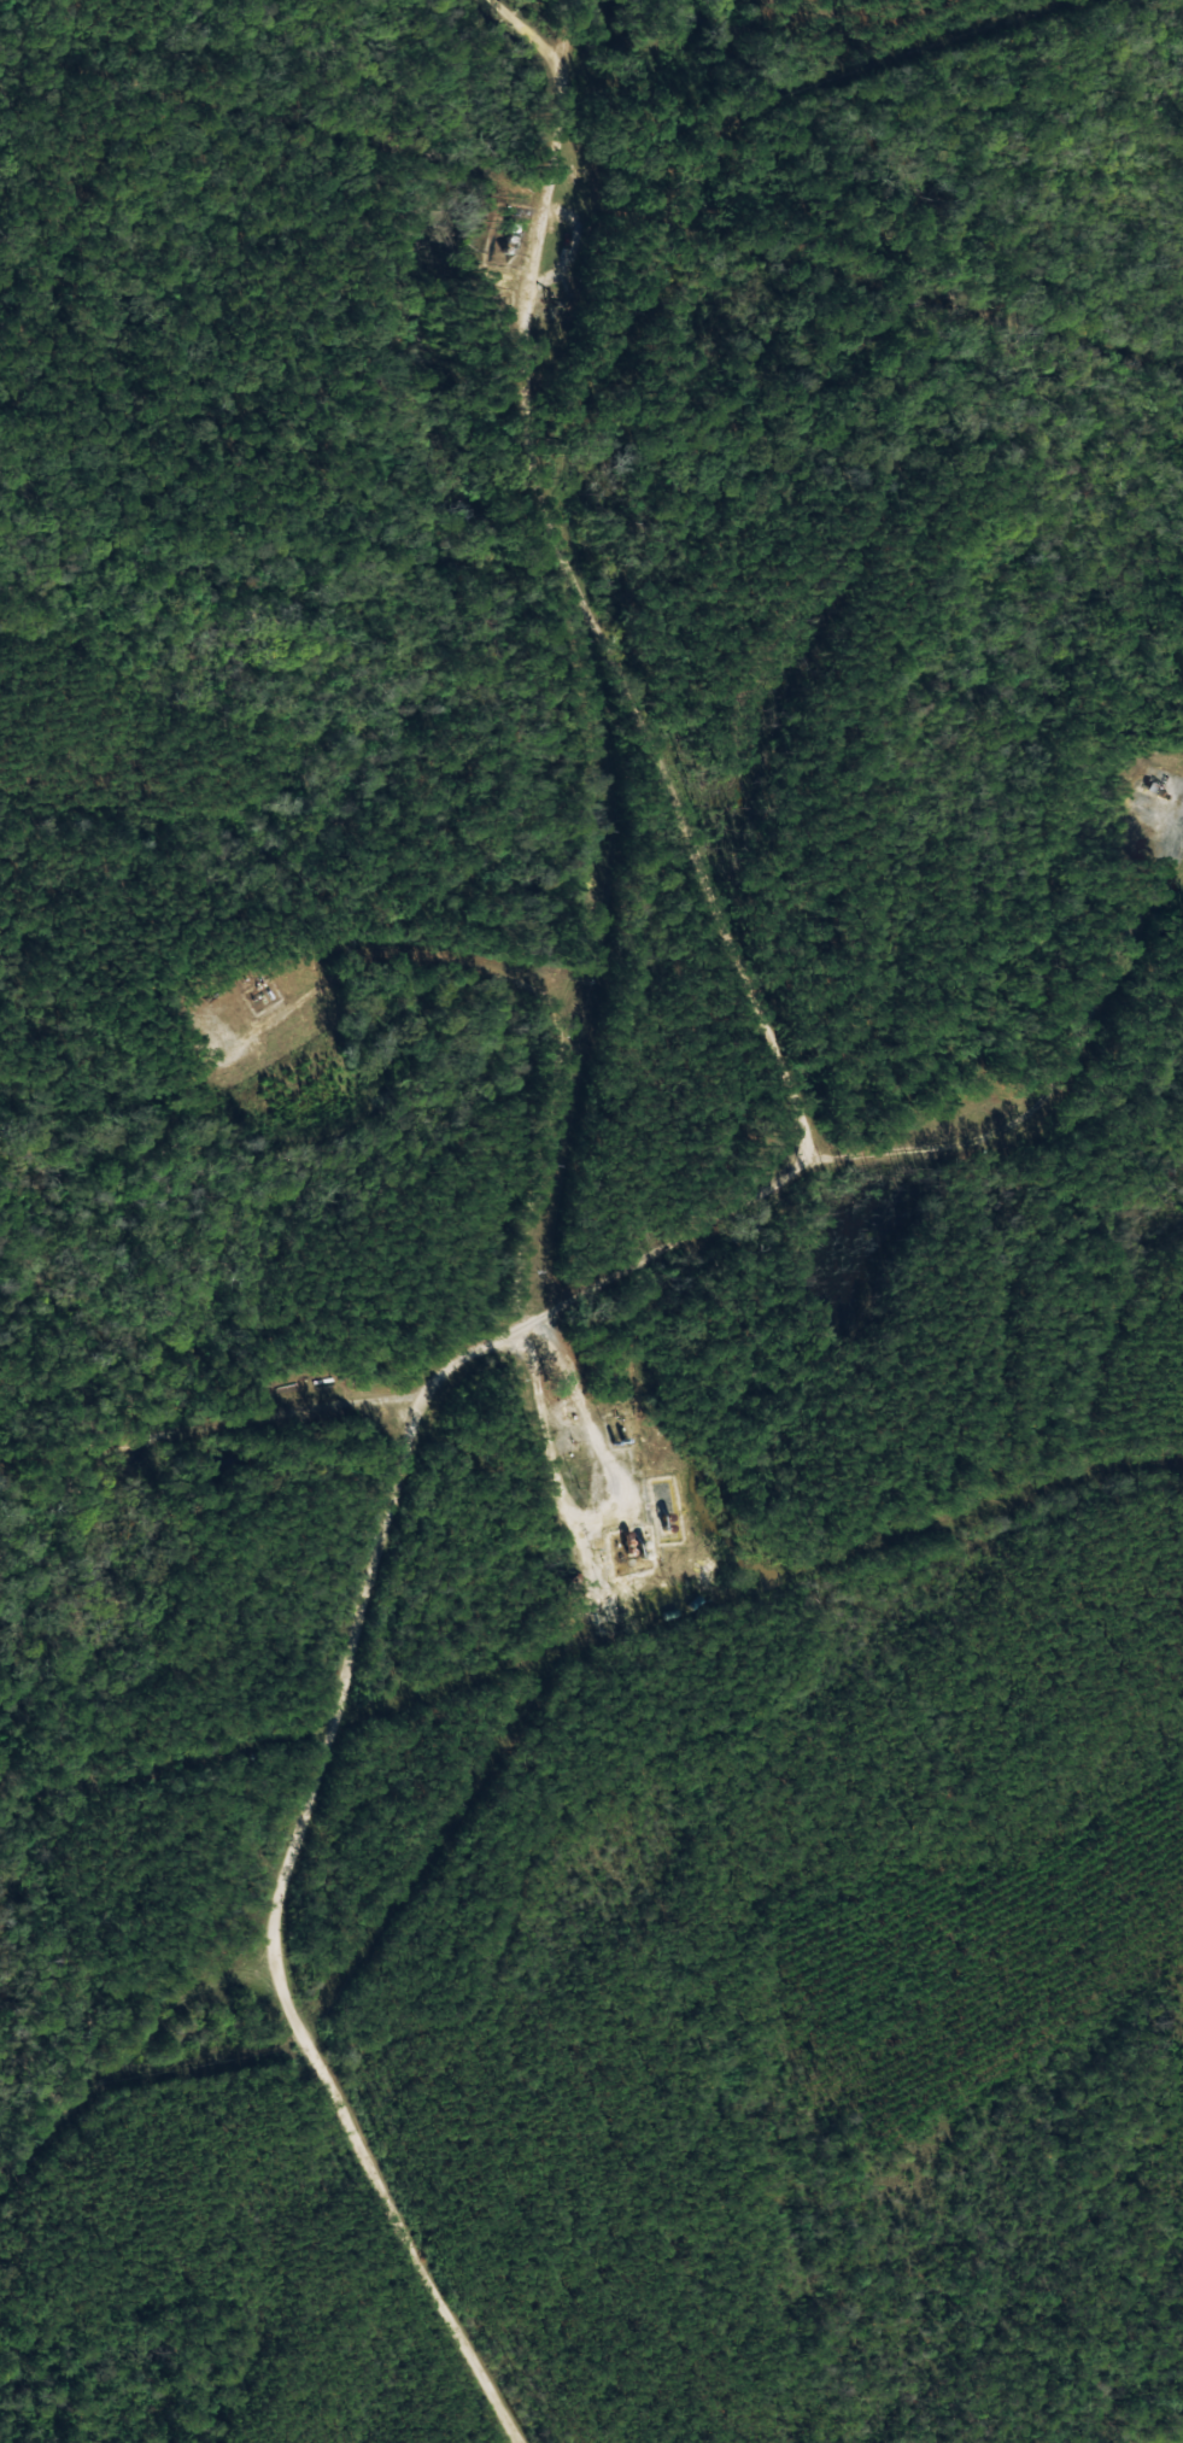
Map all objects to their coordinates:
road: (510, 10)
road: (638, 1265)
road: (197, 1424)

